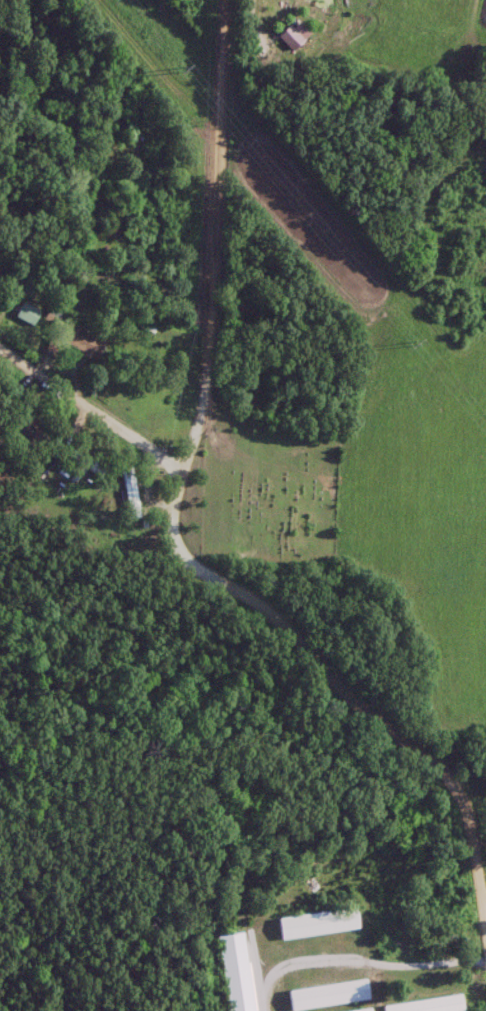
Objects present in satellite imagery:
building: (289, 39)
power tower: (177, 68)
building: (26, 315)
building: (80, 343)
power tower: (410, 344)
road: (87, 405)
building: (26, 428)
building: (128, 495)
road: (173, 534)
road: (481, 897)
building: (316, 925)
building: (234, 973)
building: (327, 996)
building: (428, 1005)
building: (366, 1010)

